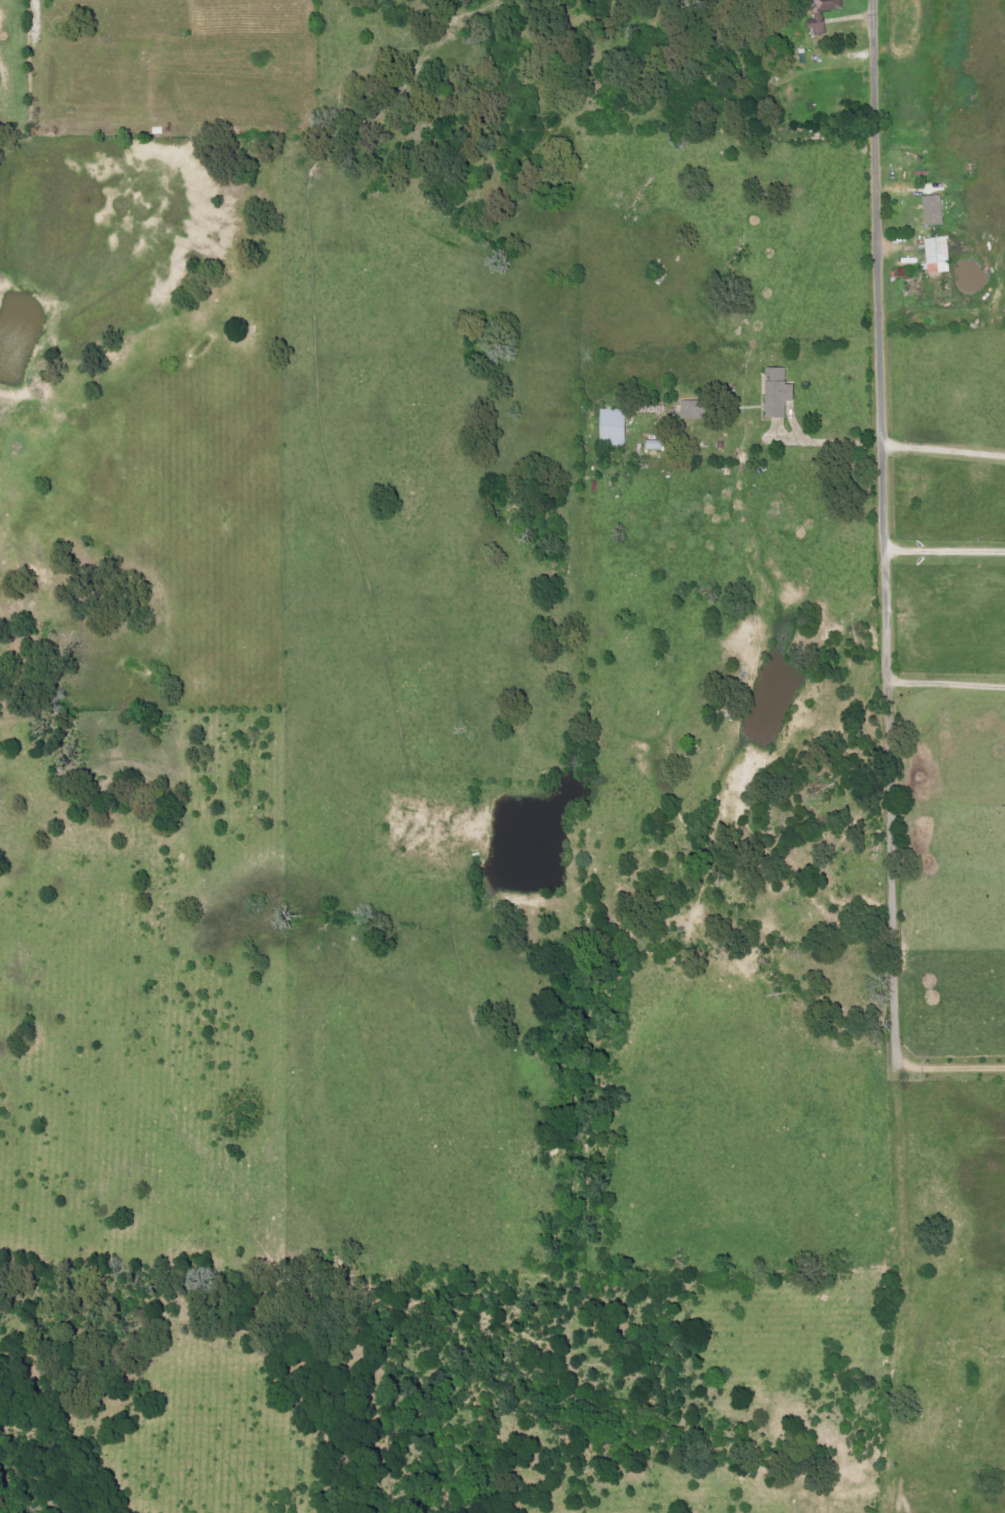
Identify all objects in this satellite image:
road: (29, 13)
building: (823, 14)
building: (935, 210)
building: (939, 255)
building: (779, 393)
building: (696, 409)
building: (615, 427)
road: (943, 436)
road: (826, 442)
building: (656, 445)
road: (943, 549)
road: (945, 671)
road: (888, 758)
road: (953, 1069)

